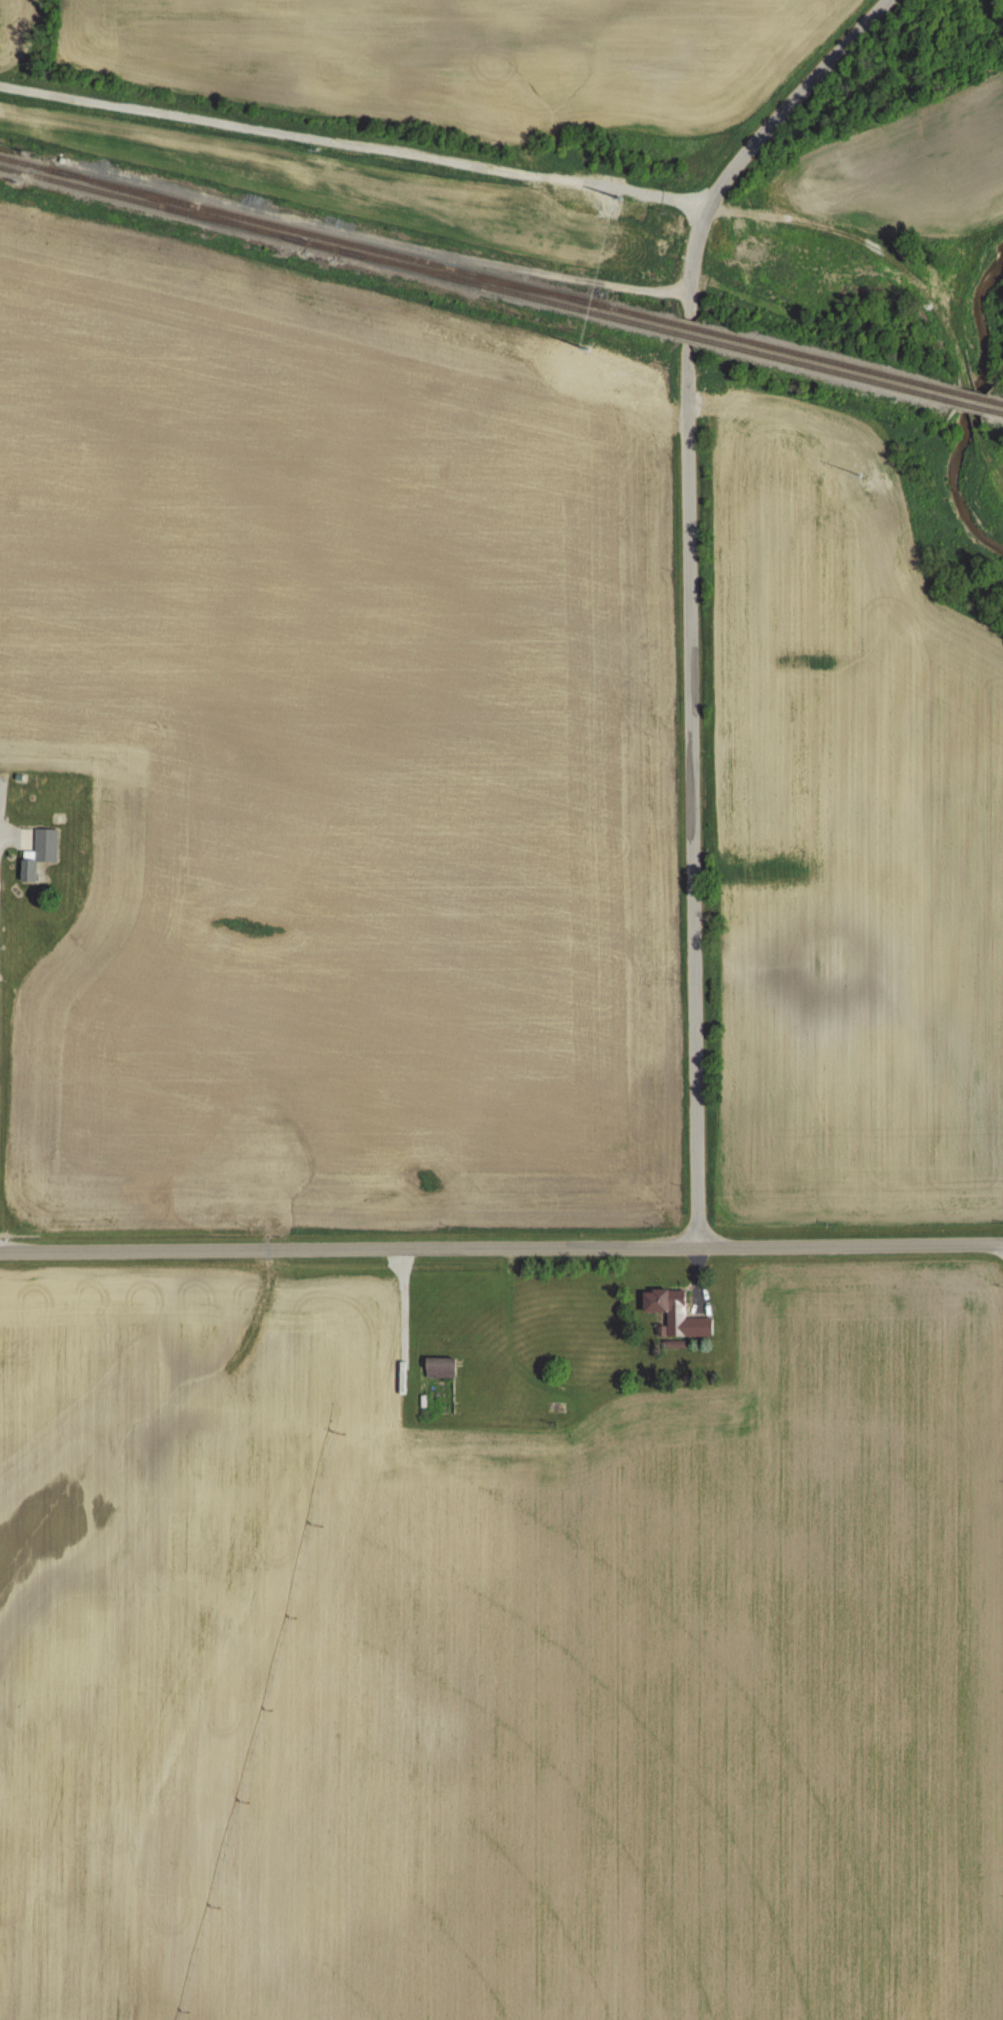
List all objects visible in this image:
railway: (27, 163)
railway: (152, 203)
railway: (180, 206)
railway: (323, 237)
railway: (322, 246)
railway: (466, 277)
railway: (507, 292)
railway: (635, 314)
railway: (693, 328)
railway: (690, 337)
railway: (832, 362)
railway: (828, 371)
railway: (974, 396)
railway: (997, 402)
railway: (970, 405)
railway: (996, 411)
road: (687, 579)
building: (39, 854)
road: (501, 1230)
building: (673, 1313)
building: (438, 1366)

